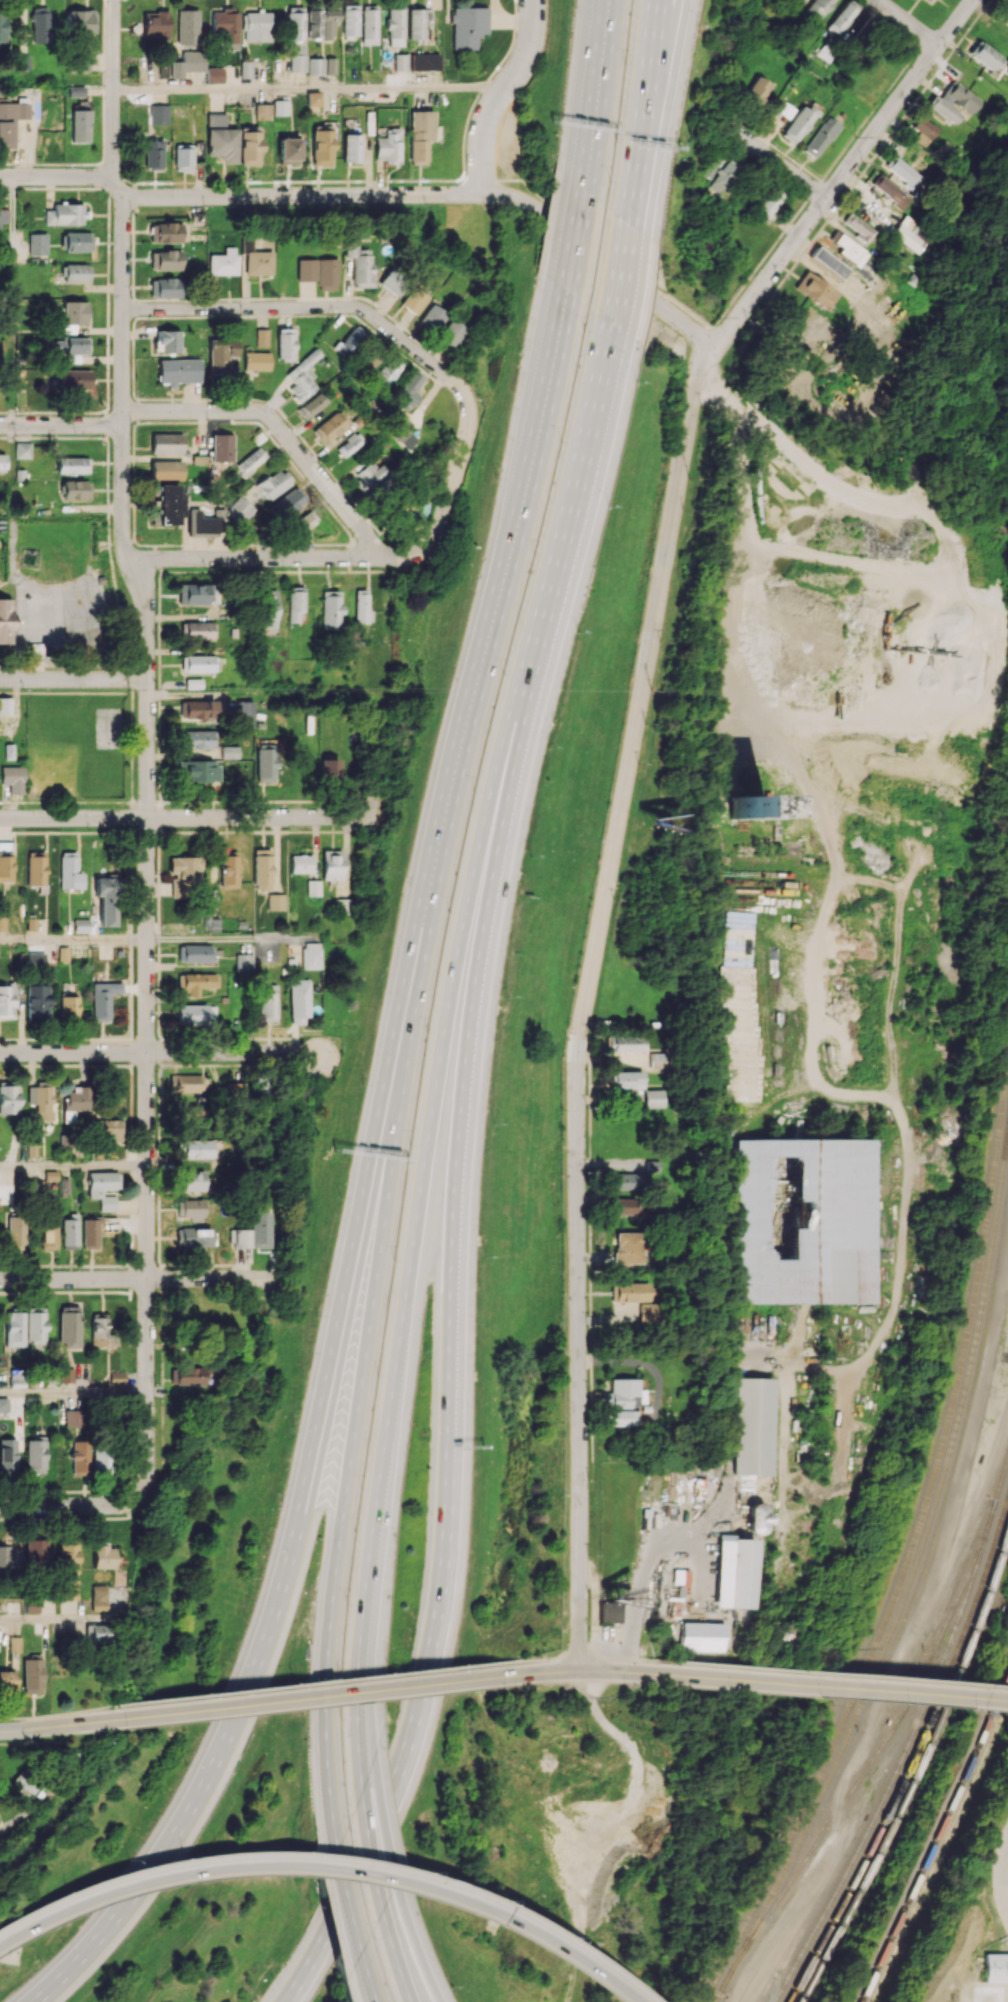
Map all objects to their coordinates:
street lamp: (571, 5)
building: (819, 7)
building: (842, 16)
building: (1005, 18)
building: (350, 20)
building: (79, 21)
road: (909, 22)
building: (294, 23)
building: (314, 23)
building: (330, 23)
building: (418, 23)
building: (155, 24)
building: (369, 24)
building: (2, 25)
building: (40, 25)
building: (187, 26)
building: (257, 26)
building: (468, 26)
street lamp: (697, 26)
building: (225, 27)
building: (395, 27)
building: (985, 55)
road: (648, 59)
road: (661, 60)
building: (81, 61)
building: (424, 61)
building: (297, 62)
building: (400, 62)
building: (188, 63)
street lamp: (624, 64)
building: (330, 65)
building: (315, 66)
building: (245, 69)
building: (163, 70)
building: (214, 75)
road: (309, 87)
road: (591, 91)
building: (756, 91)
road: (500, 94)
building: (960, 98)
building: (313, 101)
building: (281, 107)
building: (943, 109)
building: (263, 111)
building: (159, 114)
building: (11, 121)
building: (80, 122)
building: (797, 123)
building: (923, 131)
building: (420, 135)
building: (819, 137)
building: (221, 138)
street lamp: (553, 139)
building: (321, 146)
building: (388, 146)
building: (249, 147)
building: (351, 147)
building: (288, 150)
building: (153, 154)
road: (773, 157)
building: (183, 159)
street lamp: (672, 159)
road: (639, 172)
building: (904, 172)
road: (844, 174)
road: (57, 176)
building: (726, 177)
street lamp: (608, 181)
building: (892, 192)
road: (443, 194)
building: (770, 202)
building: (66, 214)
building: (3, 218)
building: (858, 226)
building: (164, 232)
building: (913, 234)
road: (569, 235)
building: (76, 241)
building: (37, 243)
building: (245, 244)
building: (849, 250)
building: (165, 260)
building: (223, 262)
building: (258, 262)
building: (829, 262)
building: (357, 263)
building: (77, 272)
building: (317, 272)
road: (621, 274)
building: (391, 281)
building: (166, 287)
building: (815, 290)
road: (10, 300)
building: (412, 300)
road: (316, 306)
building: (71, 316)
building: (431, 317)
building: (450, 333)
building: (261, 337)
building: (351, 338)
building: (167, 341)
building: (284, 344)
building: (70, 348)
building: (220, 354)
building: (256, 361)
building: (177, 371)
building: (386, 371)
building: (302, 376)
building: (74, 379)
building: (407, 389)
building: (311, 404)
road: (225, 410)
building: (330, 426)
building: (166, 443)
building: (350, 444)
building: (221, 447)
building: (23, 450)
building: (250, 460)
building: (2, 461)
building: (72, 465)
road: (457, 467)
building: (166, 469)
building: (370, 475)
building: (273, 483)
building: (75, 489)
road: (575, 499)
building: (287, 502)
building: (167, 503)
building: (241, 509)
building: (303, 521)
building: (200, 524)
road: (291, 558)
building: (196, 594)
building: (296, 604)
building: (362, 606)
road: (492, 607)
building: (268, 609)
building: (330, 609)
road: (50, 615)
road: (773, 617)
building: (5, 621)
building: (197, 630)
building: (35, 650)
building: (199, 663)
road: (74, 679)
building: (5, 706)
building: (197, 709)
building: (244, 714)
railway: (887, 732)
building: (199, 739)
road: (147, 746)
building: (229, 752)
building: (265, 764)
building: (330, 769)
building: (200, 771)
building: (12, 778)
building: (749, 807)
road: (185, 817)
building: (300, 863)
building: (332, 864)
building: (6, 866)
building: (36, 868)
building: (262, 868)
building: (229, 869)
building: (69, 871)
building: (184, 873)
building: (313, 887)
building: (106, 899)
building: (275, 901)
building: (342, 906)
building: (2, 923)
building: (81, 925)
road: (73, 939)
road: (231, 939)
building: (195, 953)
building: (311, 955)
building: (35, 959)
building: (243, 962)
railway: (974, 981)
building: (195, 982)
building: (102, 999)
building: (6, 1001)
building: (37, 1001)
building: (299, 1001)
road: (586, 1001)
building: (268, 1002)
building: (68, 1006)
building: (194, 1013)
railway: (898, 1019)
building: (625, 1043)
road: (160, 1052)
building: (657, 1060)
road: (467, 1062)
road: (438, 1065)
building: (627, 1079)
building: (187, 1083)
building: (76, 1098)
building: (654, 1098)
building: (9, 1099)
building: (40, 1099)
building: (193, 1110)
building: (107, 1129)
building: (64, 1141)
building: (31, 1149)
building: (193, 1149)
road: (73, 1166)
building: (193, 1180)
building: (627, 1181)
railway: (951, 1187)
building: (103, 1188)
building: (628, 1207)
building: (191, 1209)
building: (806, 1221)
building: (262, 1229)
building: (15, 1232)
building: (48, 1232)
building: (69, 1232)
building: (90, 1233)
building: (194, 1237)
building: (241, 1237)
building: (627, 1247)
road: (137, 1279)
building: (628, 1292)
building: (645, 1312)
building: (35, 1324)
building: (69, 1326)
building: (14, 1329)
building: (98, 1329)
road: (648, 1366)
building: (66, 1375)
building: (186, 1375)
building: (16, 1378)
road: (359, 1383)
road: (73, 1392)
building: (625, 1393)
building: (4, 1404)
building: (73, 1418)
building: (621, 1418)
building: (753, 1426)
building: (35, 1455)
building: (8, 1457)
building: (79, 1457)
building: (101, 1459)
railway: (1000, 1492)
road: (304, 1497)
road: (70, 1505)
building: (755, 1519)
railway: (911, 1549)
building: (37, 1553)
building: (8, 1556)
building: (104, 1557)
building: (68, 1559)
road: (371, 1560)
railway: (915, 1565)
building: (734, 1572)
building: (682, 1577)
building: (69, 1588)
road: (637, 1596)
building: (98, 1598)
building: (32, 1605)
building: (608, 1612)
road: (57, 1619)
building: (98, 1632)
building: (704, 1636)
building: (14, 1644)
road: (596, 1653)
road: (547, 1671)
road: (615, 1671)
road: (828, 1672)
building: (32, 1675)
building: (7, 1680)
road: (302, 1683)
road: (829, 1686)
road: (320, 1696)
road: (366, 1705)
road: (29, 1717)
road: (356, 1722)
road: (62, 1725)
road: (18, 1742)
road: (410, 1742)
railway: (879, 1751)
railway: (915, 1759)
railway: (900, 1767)
railway: (919, 1775)
building: (26, 1780)
road: (381, 1822)
road: (2, 1829)
railway: (935, 1842)
road: (371, 1851)
railway: (942, 1854)
road: (320, 1867)
road: (1003, 1870)
road: (345, 1897)
road: (788, 1922)
road: (415, 1945)
road: (395, 1956)
building: (996, 1967)
road: (366, 1976)
railway: (724, 1984)

